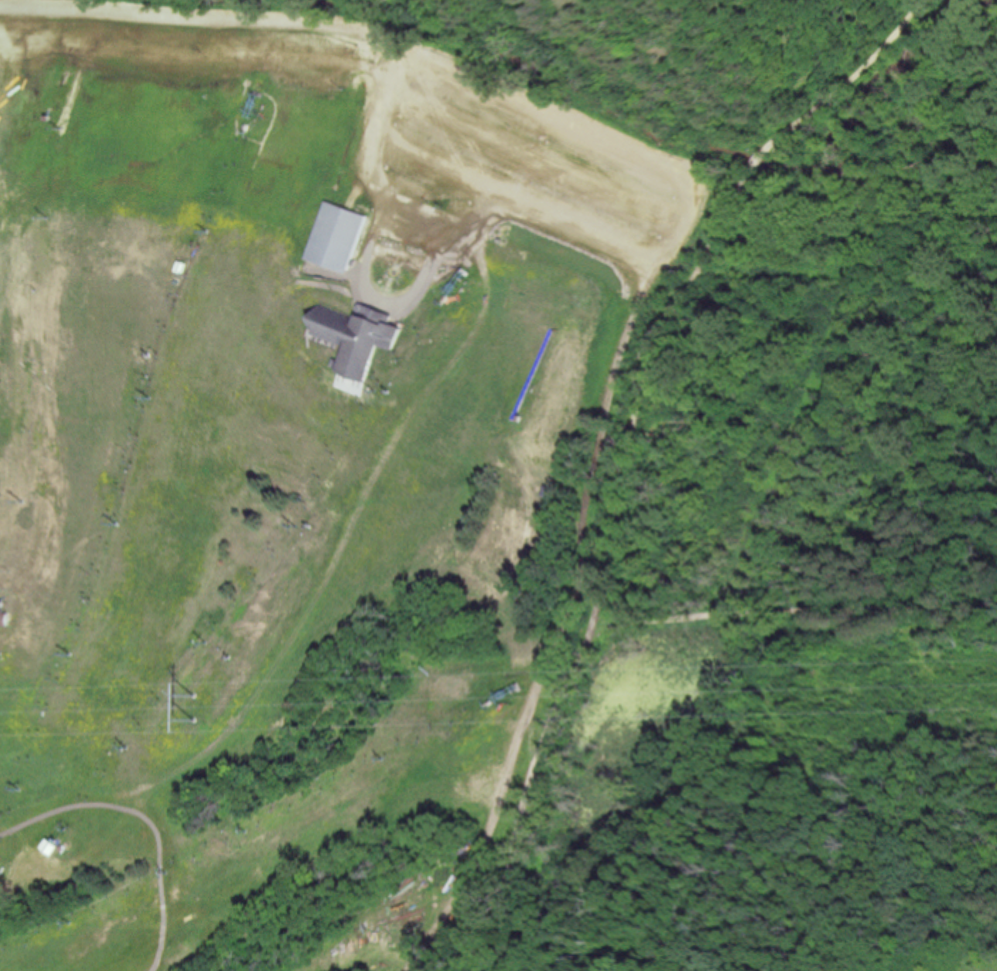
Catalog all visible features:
road: (133, 15)
road: (848, 83)
aerialway pylon: (50, 141)
road: (754, 160)
parking lot: (526, 166)
aerialway pylon: (25, 227)
aerialway pylon: (213, 230)
road: (670, 230)
building: (338, 237)
building: (369, 341)
aerialway pylon: (386, 389)
aerialway pylon: (154, 397)
ski resort: (257, 510)
aerialway pylon: (290, 519)
aerialway pylon: (110, 524)
park: (794, 525)
road: (604, 565)
road: (788, 609)
power tower: (117, 627)
aerialway pylon: (199, 643)
aerialway pylon: (64, 654)
aerialway pylon: (121, 748)
aerialway pylon: (375, 757)
aerialway pylon: (17, 789)
aerialway pylon: (63, 828)
aerialway pylon: (233, 832)
aerialway pylon: (159, 871)
park: (15, 895)
aerialway pylon: (65, 921)

